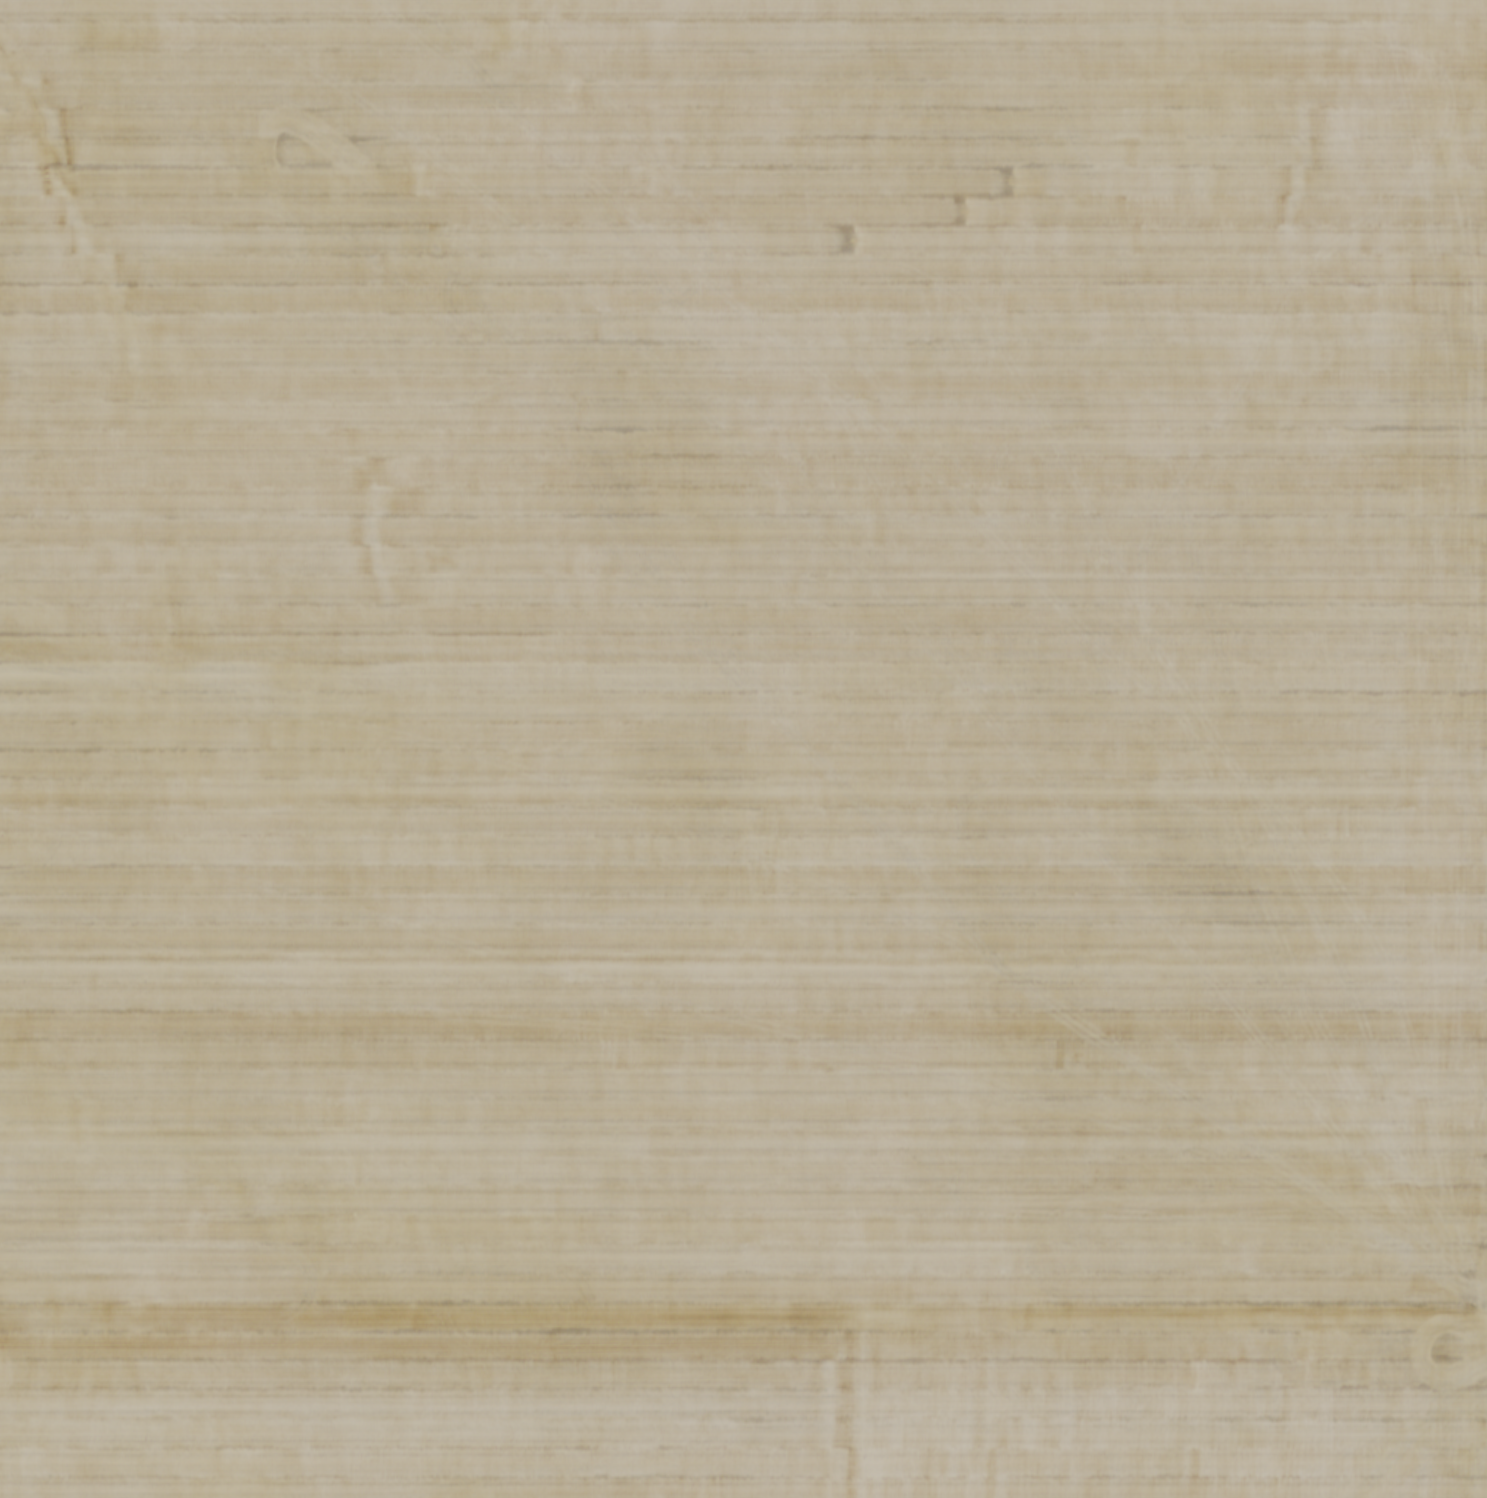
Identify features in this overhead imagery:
road: (743, 1321)

